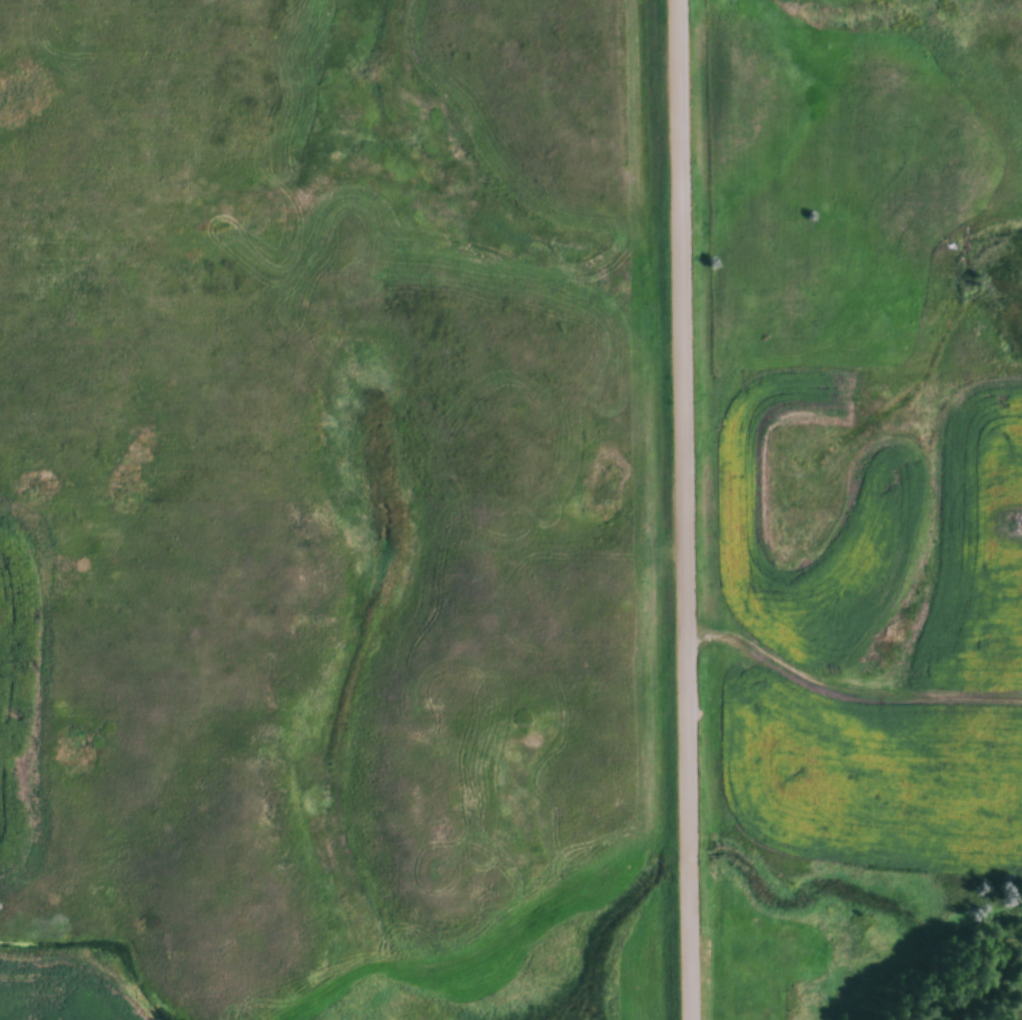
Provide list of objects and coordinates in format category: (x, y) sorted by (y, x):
river: (1016, 341)
road: (683, 510)

